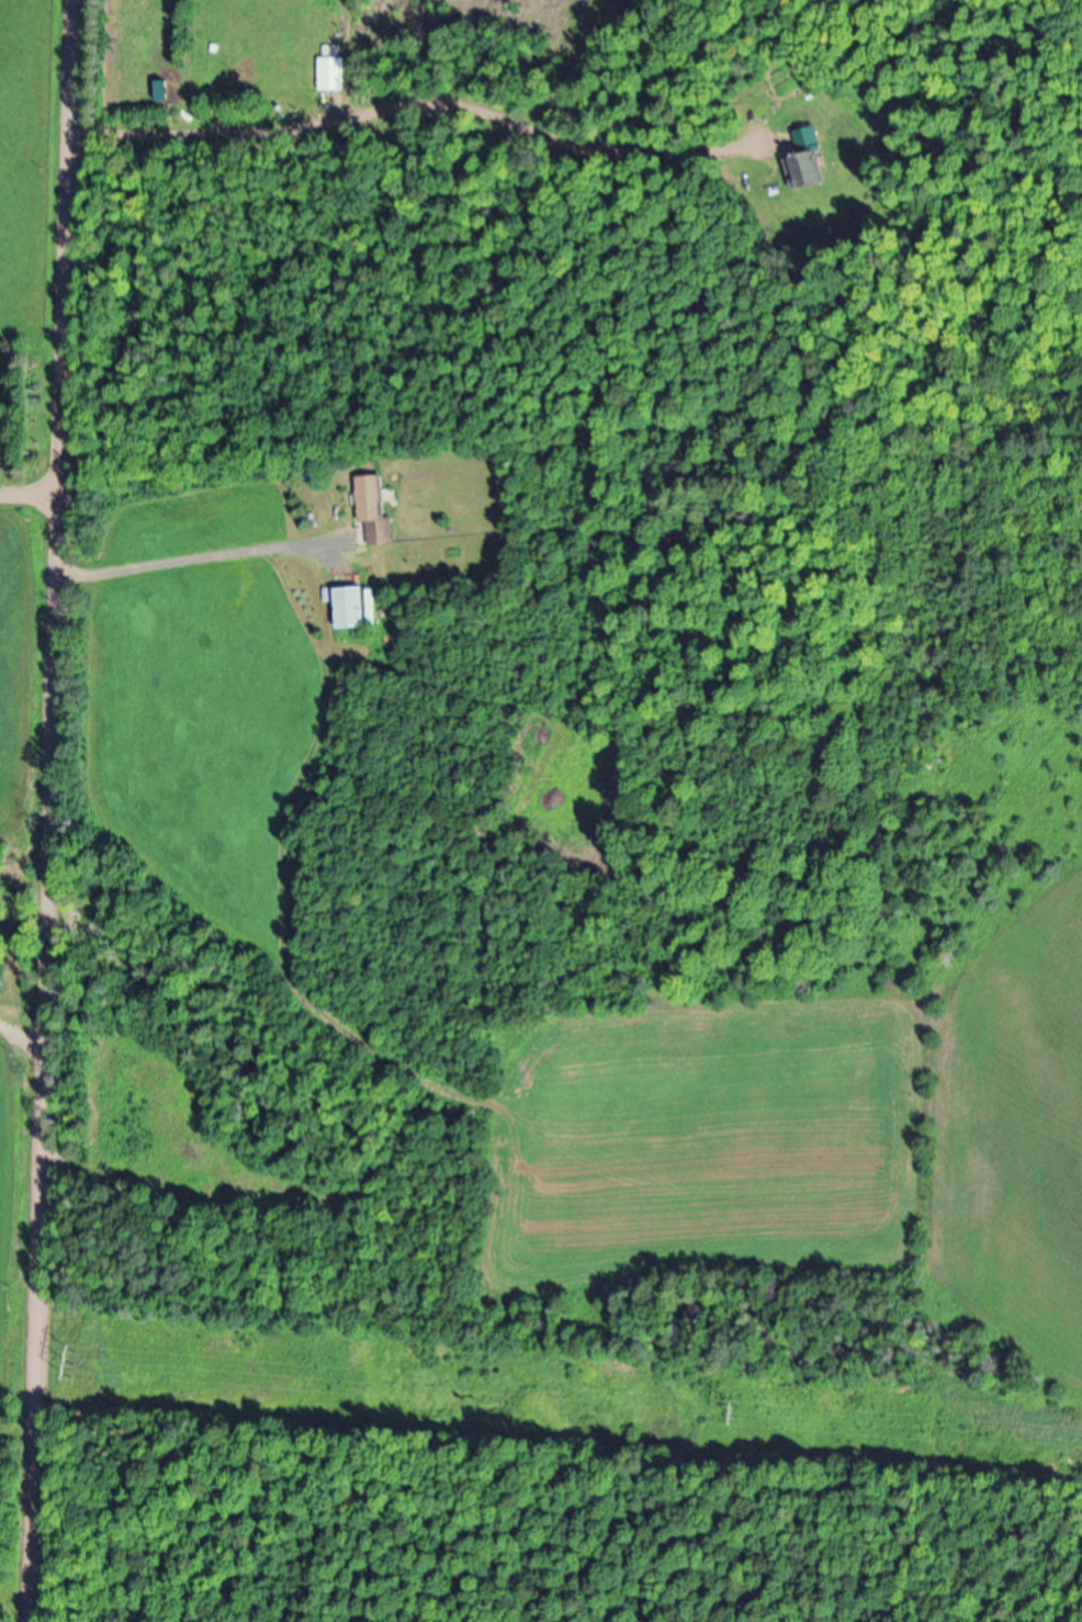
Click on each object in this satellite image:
building: (335, 77)
building: (812, 161)
road: (34, 471)
building: (377, 514)
building: (356, 609)
road: (58, 811)
power tower: (77, 1367)
power tower: (740, 1413)

